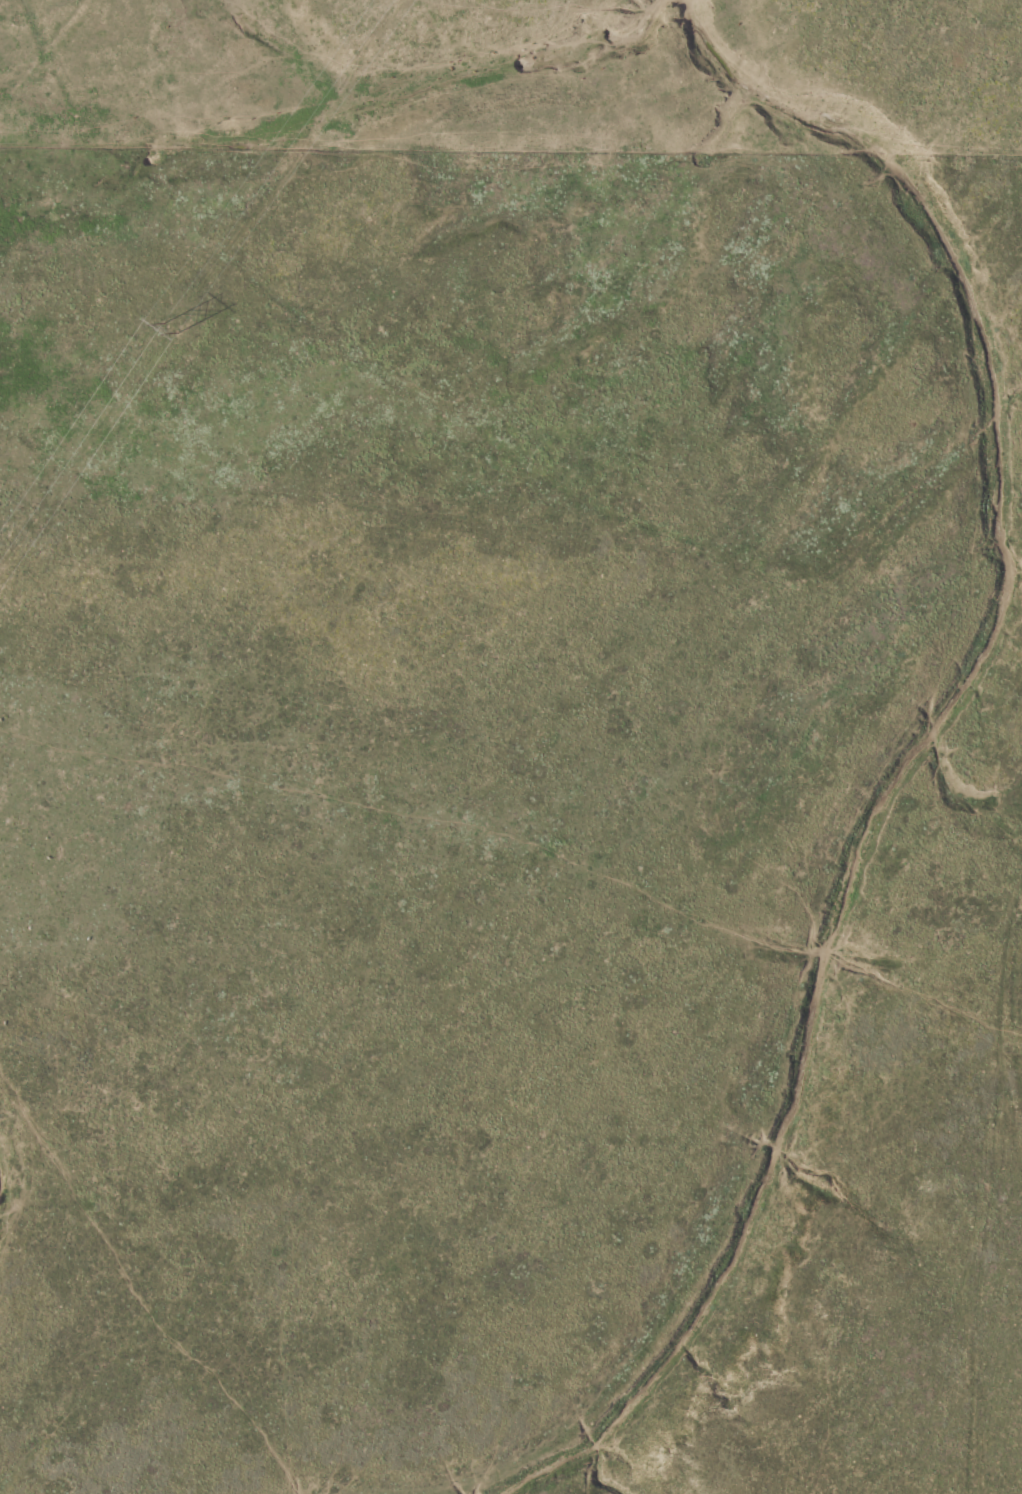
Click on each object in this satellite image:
power tower: (159, 331)

